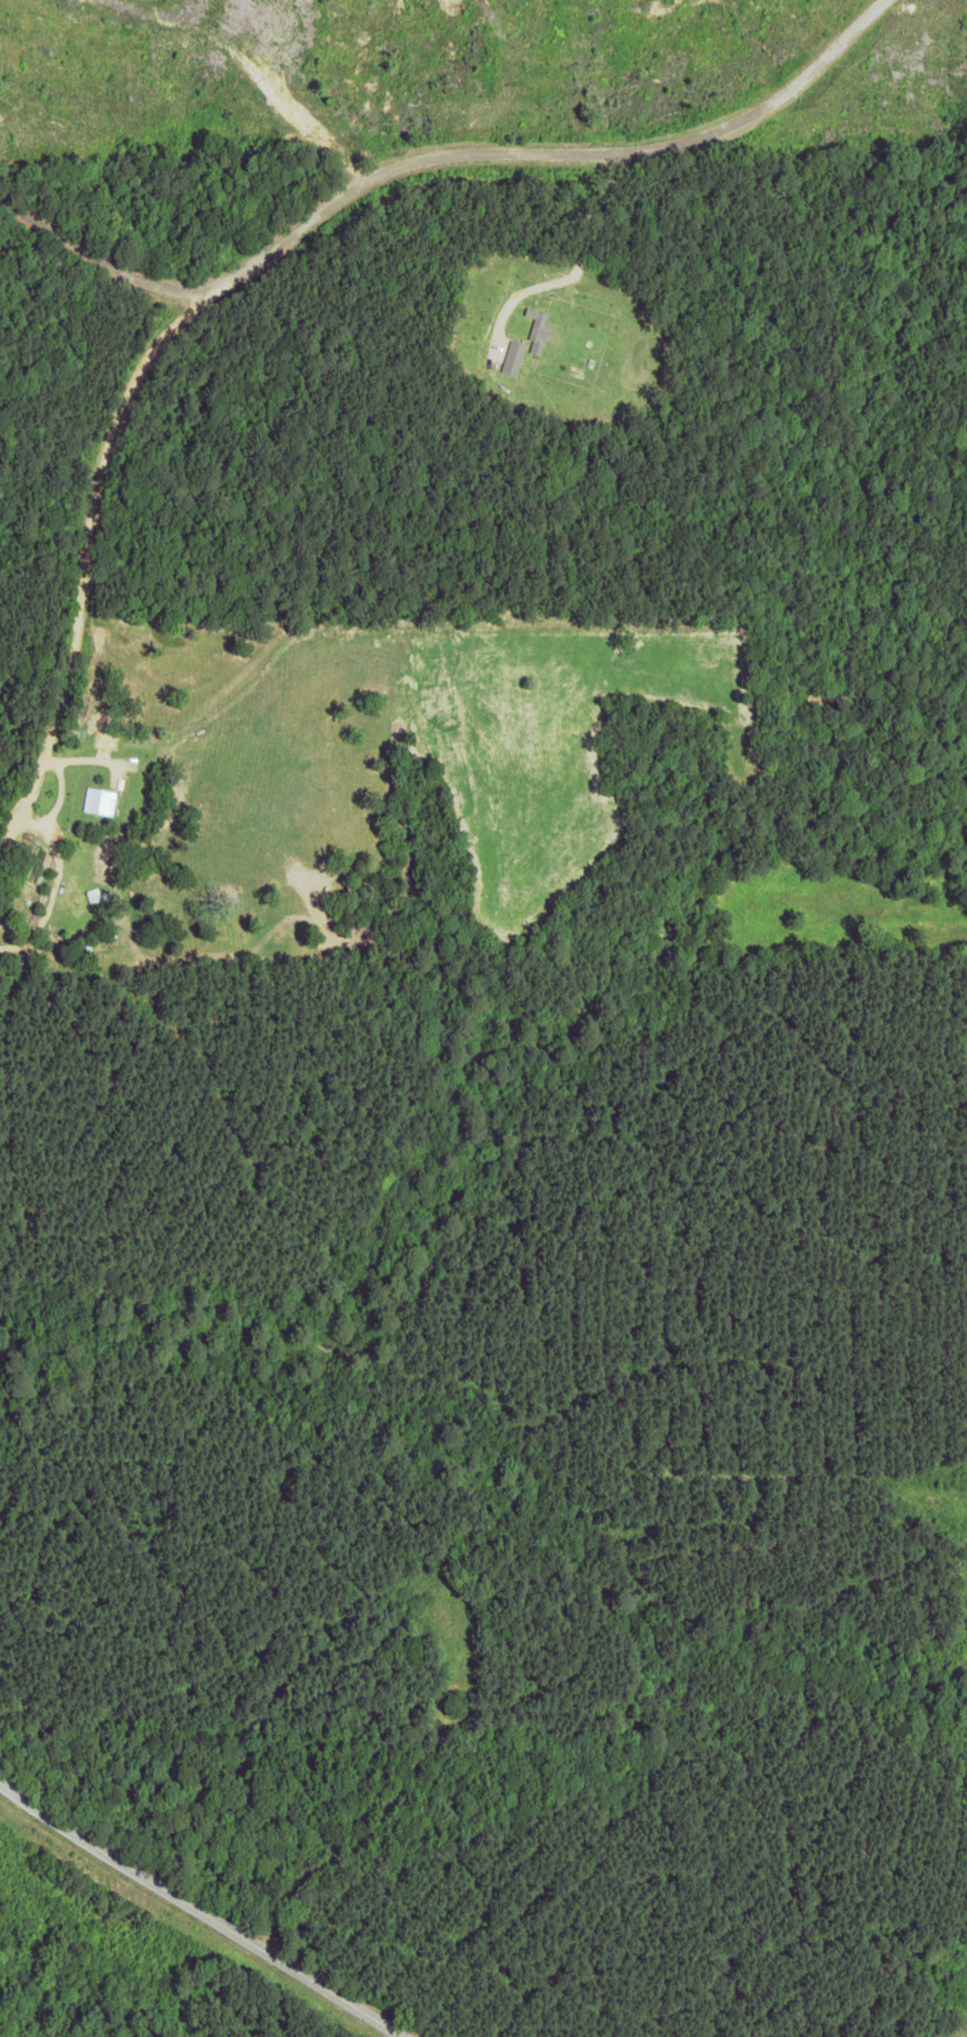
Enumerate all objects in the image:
road: (540, 158)
road: (69, 281)
building: (538, 329)
building: (513, 357)
road: (103, 627)
building: (99, 800)
road: (221, 1908)

